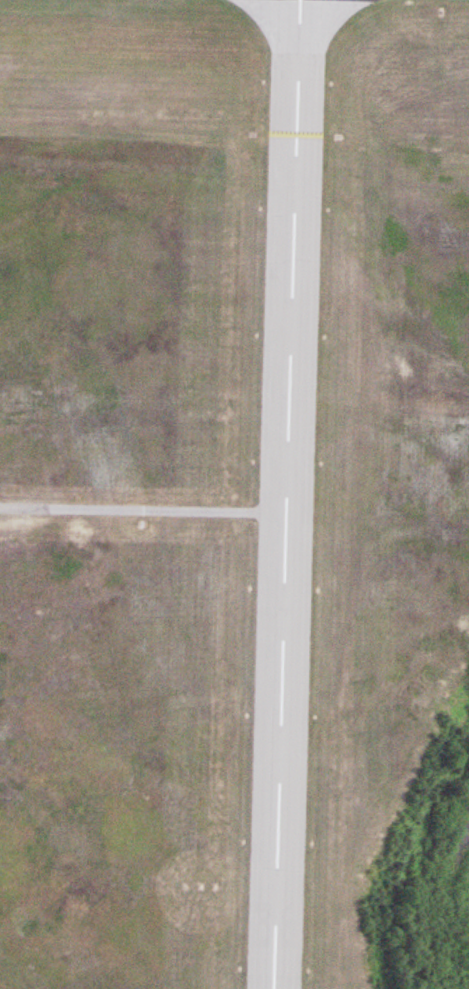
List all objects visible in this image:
airport: (225, 476)
airport runway: (283, 494)

